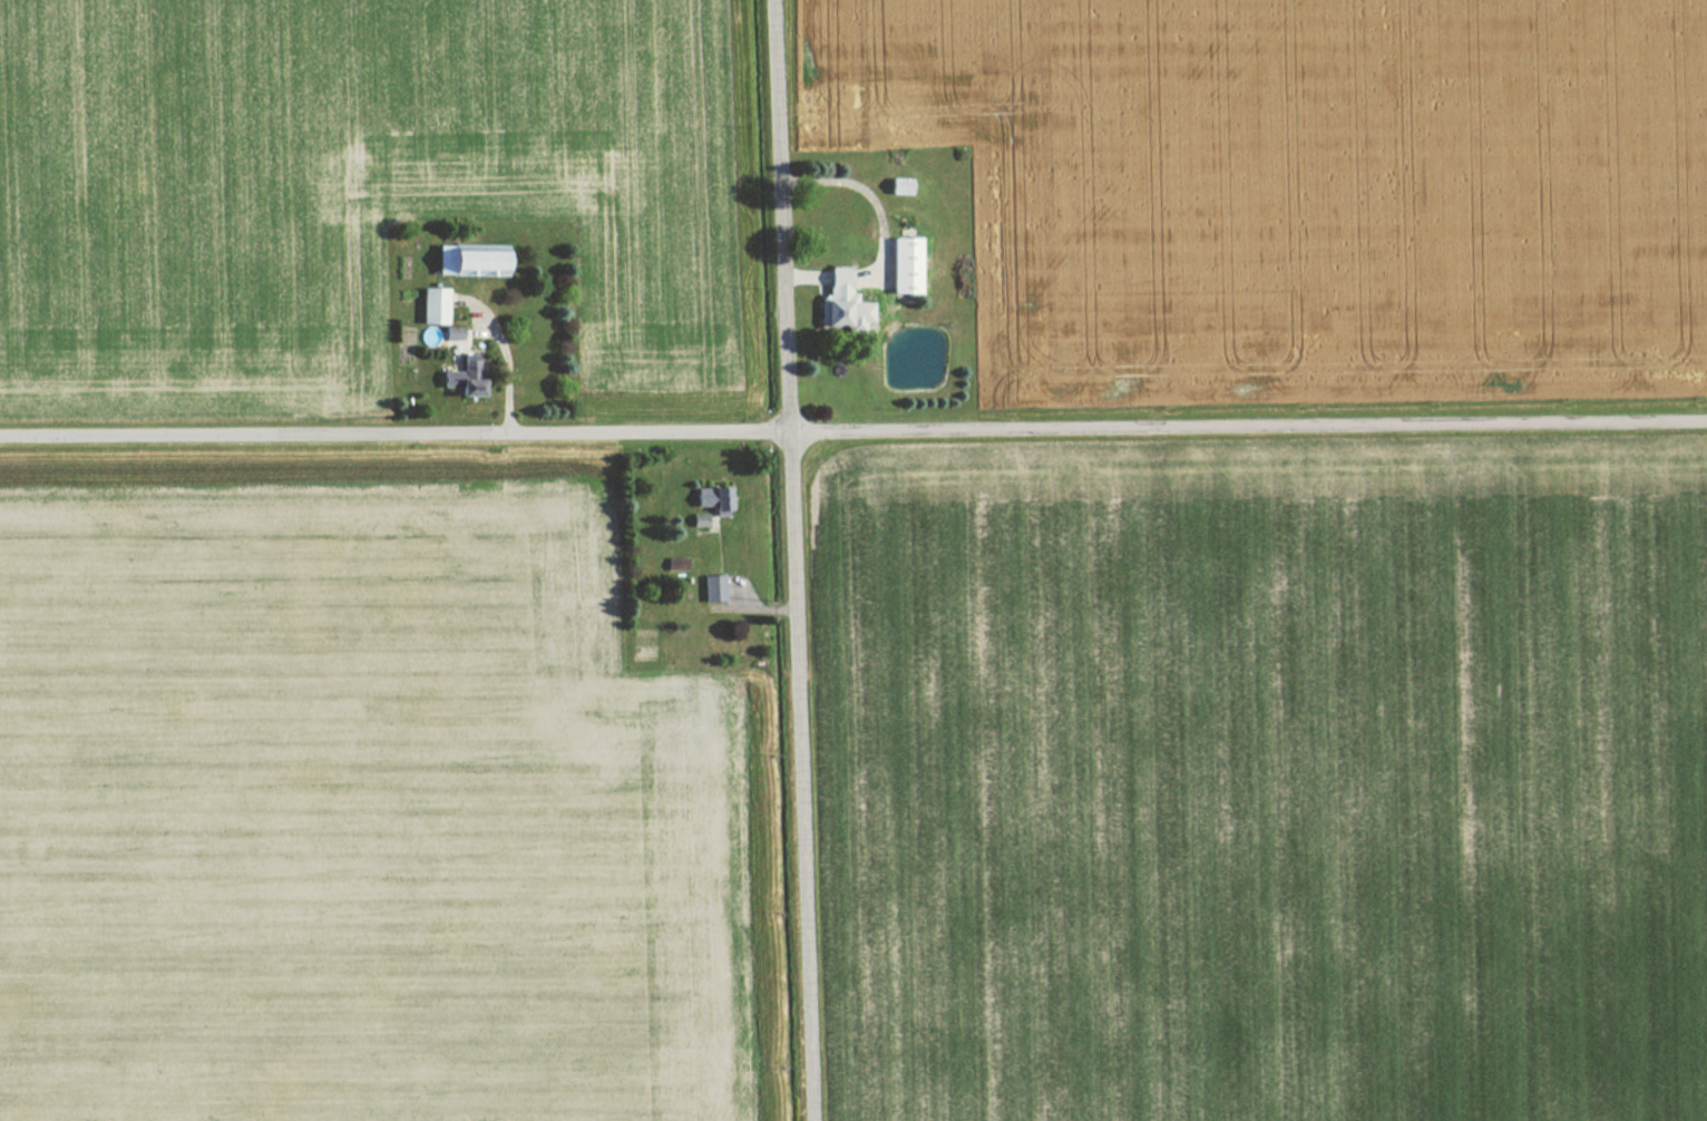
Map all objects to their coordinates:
crop: (348, 187)
crop: (1300, 188)
building: (466, 260)
building: (901, 265)
building: (840, 301)
building: (430, 305)
building: (459, 381)
road: (852, 432)
building: (716, 496)
road: (797, 560)
building: (673, 564)
building: (714, 587)
crop: (1271, 791)
crop: (358, 815)

